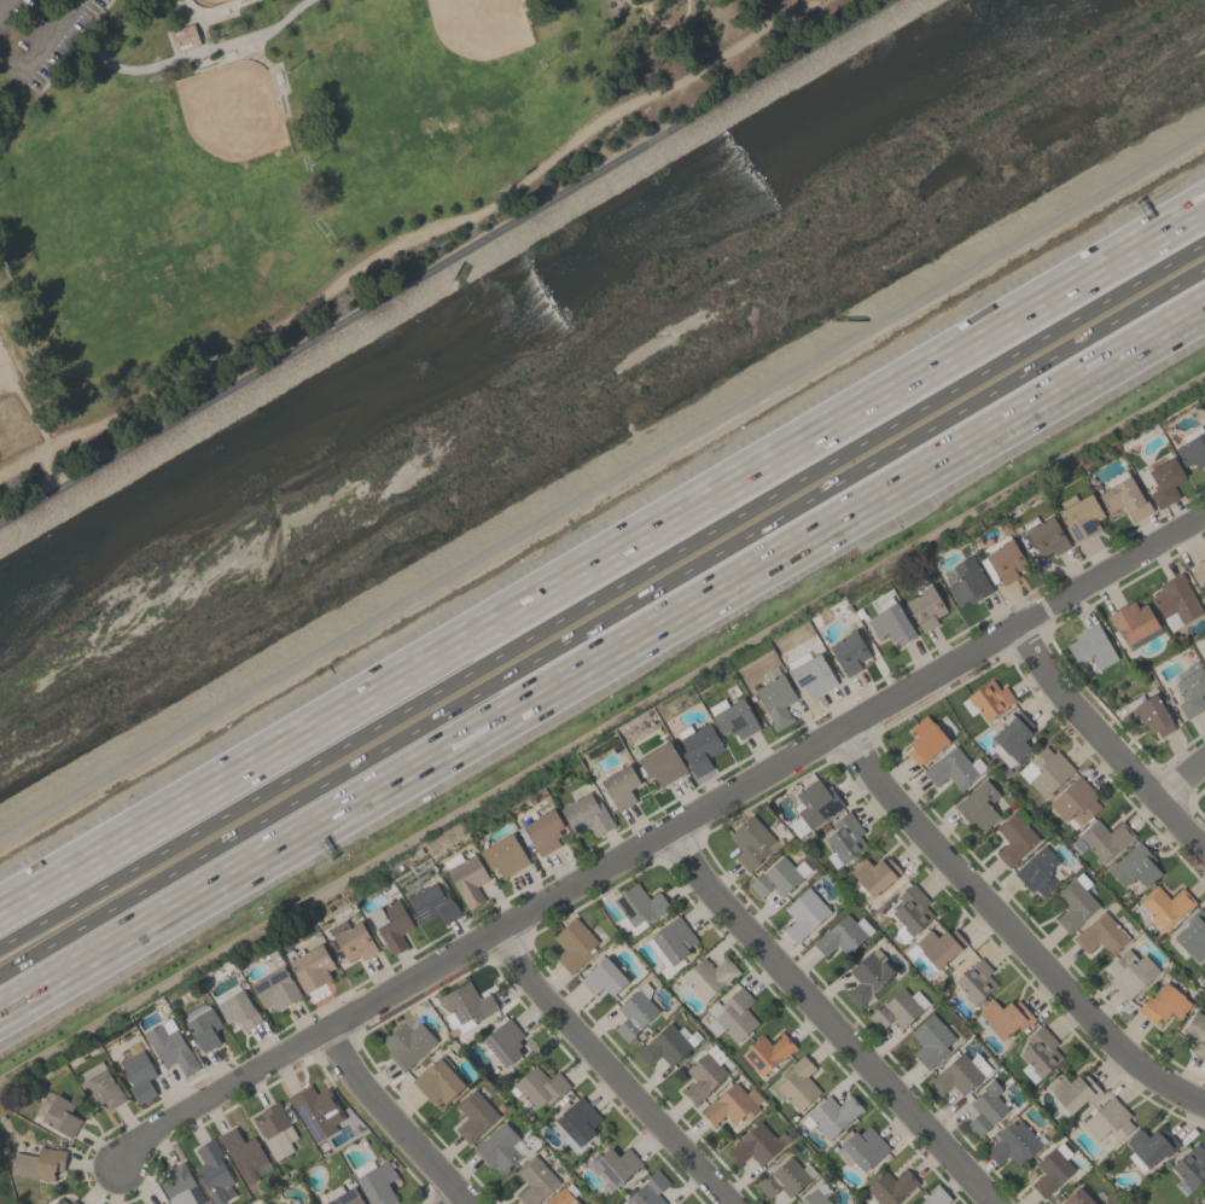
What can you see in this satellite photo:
park: (208, 1)
road: (781, 2)
road: (4, 5)
road: (220, 5)
road: (188, 10)
road: (180, 12)
road: (220, 17)
park: (481, 27)
road: (792, 27)
road: (167, 30)
road: (203, 34)
building: (184, 41)
road: (41, 47)
road: (71, 50)
road: (215, 57)
road: (238, 57)
road: (184, 59)
road: (280, 71)
road: (273, 78)
park: (231, 111)
park: (295, 170)
road: (411, 237)
road: (452, 263)
river: (574, 336)
road: (43, 437)
building: (1192, 447)
building: (1164, 482)
road: (601, 485)
building: (1124, 499)
building: (1078, 516)
building: (1044, 535)
building: (1003, 559)
road: (602, 562)
building: (1199, 570)
building: (966, 580)
road: (601, 593)
building: (1175, 600)
building: (924, 607)
building: (890, 621)
road: (601, 622)
building: (1133, 623)
building: (1092, 646)
building: (848, 652)
building: (1204, 656)
road: (604, 662)
building: (811, 675)
building: (1192, 692)
building: (989, 698)
building: (775, 700)
building: (1149, 716)
building: (732, 717)
building: (1011, 738)
building: (925, 739)
road: (1107, 740)
building: (698, 746)
building: (662, 763)
building: (950, 768)
building: (1044, 770)
road: (1178, 772)
building: (619, 786)
building: (1075, 802)
building: (815, 803)
building: (978, 805)
building: (586, 814)
building: (542, 830)
building: (1014, 836)
building: (845, 837)
road: (658, 838)
building: (1105, 838)
building: (750, 842)
building: (503, 855)
building: (1135, 866)
building: (1037, 872)
building: (873, 876)
building: (466, 877)
building: (778, 877)
building: (1075, 901)
building: (432, 905)
building: (1163, 905)
building: (638, 907)
building: (804, 912)
building: (910, 912)
building: (390, 925)
road: (1009, 927)
building: (842, 933)
building: (1100, 933)
building: (1193, 935)
building: (353, 940)
building: (673, 940)
building: (574, 943)
building: (936, 947)
building: (309, 965)
building: (1130, 972)
building: (709, 976)
building: (867, 976)
building: (602, 977)
building: (974, 981)
building: (275, 989)
building: (1163, 1002)
building: (466, 1006)
building: (897, 1008)
building: (238, 1010)
building: (635, 1012)
building: (732, 1014)
building: (1002, 1017)
road: (829, 1020)
building: (202, 1025)
building: (1197, 1034)
building: (930, 1040)
building: (503, 1041)
building: (407, 1042)
building: (169, 1046)
building: (663, 1046)
building: (1041, 1051)
building: (764, 1053)
road: (610, 1071)
building: (138, 1074)
building: (703, 1074)
building: (960, 1074)
building: (438, 1080)
building: (797, 1083)
building: (99, 1084)
building: (537, 1087)
building: (1072, 1090)
building: (730, 1104)
building: (315, 1110)
building: (984, 1110)
building: (832, 1113)
building: (475, 1115)
building: (60, 1116)
road: (394, 1119)
building: (1108, 1119)
building: (576, 1124)
building: (275, 1130)
building: (1013, 1144)
building: (753, 1145)
building: (1148, 1146)
building: (499, 1147)
building: (860, 1147)
building: (243, 1153)
building: (39, 1163)
building: (616, 1164)
building: (1052, 1169)
building: (1189, 1169)
building: (213, 1171)
building: (784, 1177)
building: (534, 1180)
building: (378, 1183)
building: (179, 1186)
building: (890, 1186)
building: (648, 1190)
building: (1204, 1191)
building: (815, 1194)
building: (563, 1196)
building: (1204, 1196)
building: (345, 1197)
building: (935, 1197)
building: (1077, 1197)
building: (64, 1200)
road: (462, 1200)
building: (40, 1203)
building: (162, 1203)
building: (1204, 1203)

